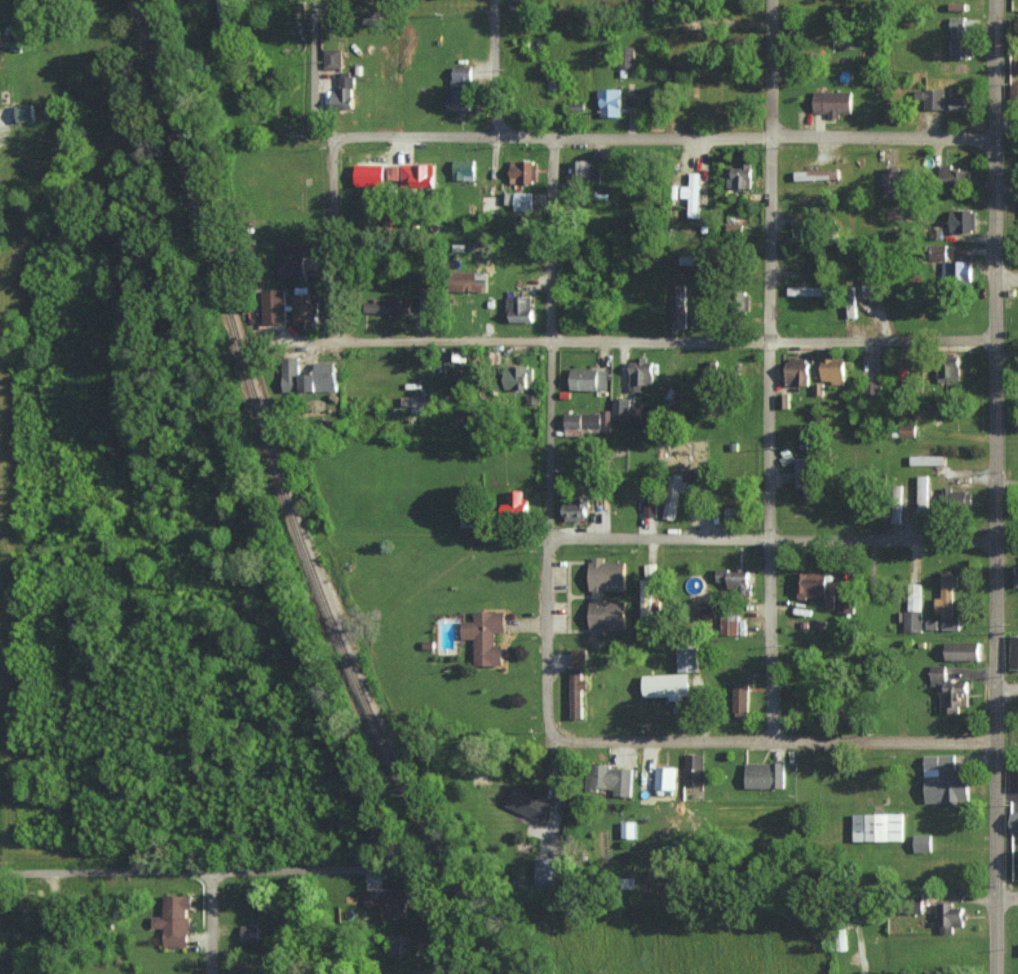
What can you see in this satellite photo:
building: (223, 11)
road: (698, 14)
road: (4, 19)
building: (960, 34)
building: (628, 56)
building: (332, 58)
road: (494, 68)
building: (461, 89)
building: (1014, 91)
building: (344, 93)
building: (932, 97)
building: (960, 101)
building: (610, 102)
building: (832, 102)
building: (24, 112)
road: (664, 136)
road: (332, 165)
building: (464, 169)
building: (587, 169)
building: (523, 171)
building: (393, 172)
building: (815, 174)
building: (417, 175)
building: (954, 175)
building: (740, 176)
building: (891, 182)
building: (693, 194)
building: (523, 200)
building: (963, 220)
road: (3, 239)
building: (938, 251)
building: (290, 266)
building: (957, 271)
road: (1007, 278)
building: (469, 280)
building: (807, 290)
building: (273, 305)
building: (426, 306)
building: (389, 307)
building: (520, 308)
building: (305, 311)
building: (681, 311)
road: (665, 341)
road: (6, 351)
building: (948, 368)
building: (831, 369)
road: (767, 370)
building: (797, 370)
building: (640, 372)
building: (290, 374)
building: (517, 376)
building: (320, 378)
building: (589, 378)
building: (874, 388)
building: (621, 408)
building: (934, 410)
building: (907, 430)
road: (547, 439)
building: (928, 459)
building: (805, 478)
road: (1006, 484)
road: (995, 486)
building: (674, 494)
building: (923, 495)
building: (956, 496)
railway: (292, 499)
building: (515, 502)
building: (650, 506)
building: (575, 508)
building: (734, 511)
road: (770, 539)
road: (2, 558)
building: (650, 570)
building: (736, 580)
building: (816, 588)
building: (597, 595)
building: (647, 599)
building: (947, 601)
building: (845, 603)
building: (913, 609)
building: (485, 636)
building: (962, 650)
building: (1014, 652)
building: (579, 657)
building: (688, 657)
building: (666, 684)
road: (1006, 687)
building: (577, 691)
building: (949, 691)
building: (740, 699)
road: (769, 741)
building: (695, 769)
building: (765, 774)
building: (1014, 777)
building: (611, 779)
building: (665, 779)
building: (944, 780)
building: (528, 803)
building: (1014, 822)
building: (878, 827)
building: (628, 829)
building: (923, 843)
building: (546, 871)
road: (212, 873)
road: (1006, 896)
building: (388, 901)
building: (951, 917)
building: (175, 919)
road: (209, 924)
road: (434, 928)
building: (250, 933)
building: (400, 945)
road: (866, 956)

